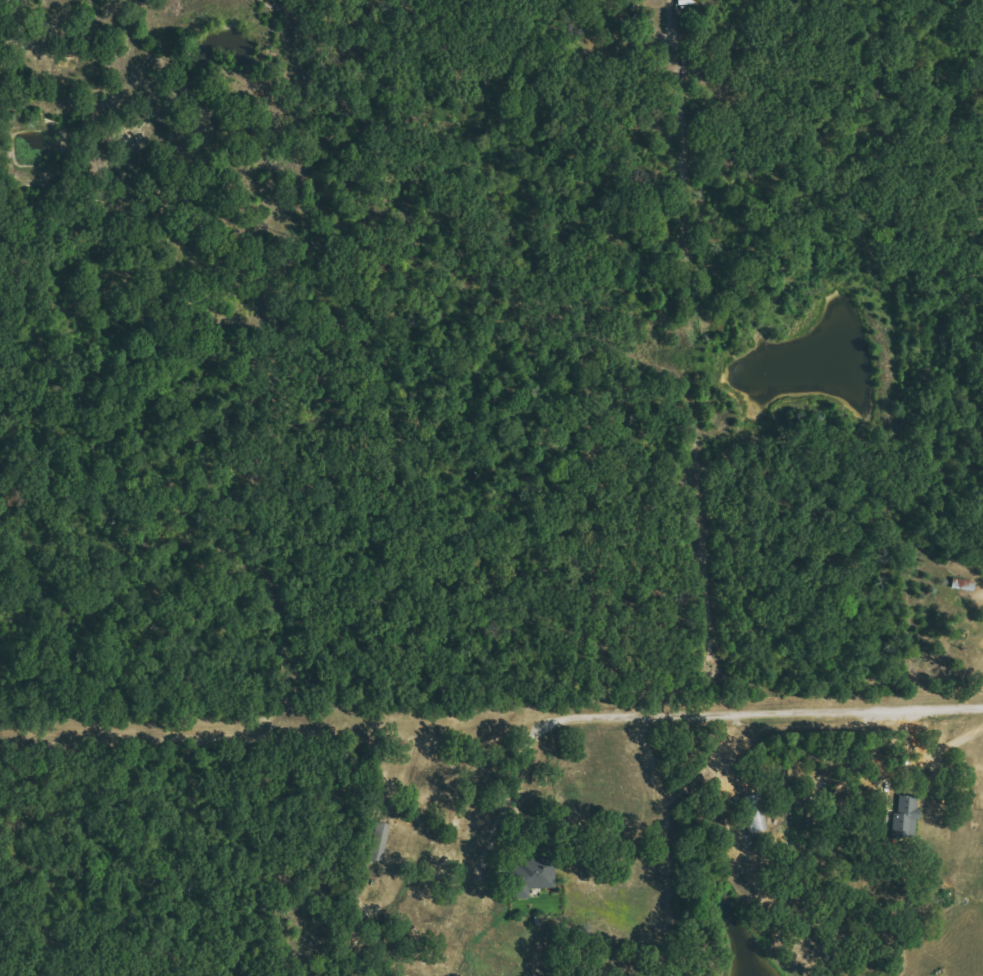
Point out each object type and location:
building: (964, 584)
road: (744, 720)
building: (907, 816)
building: (380, 842)
building: (535, 877)

